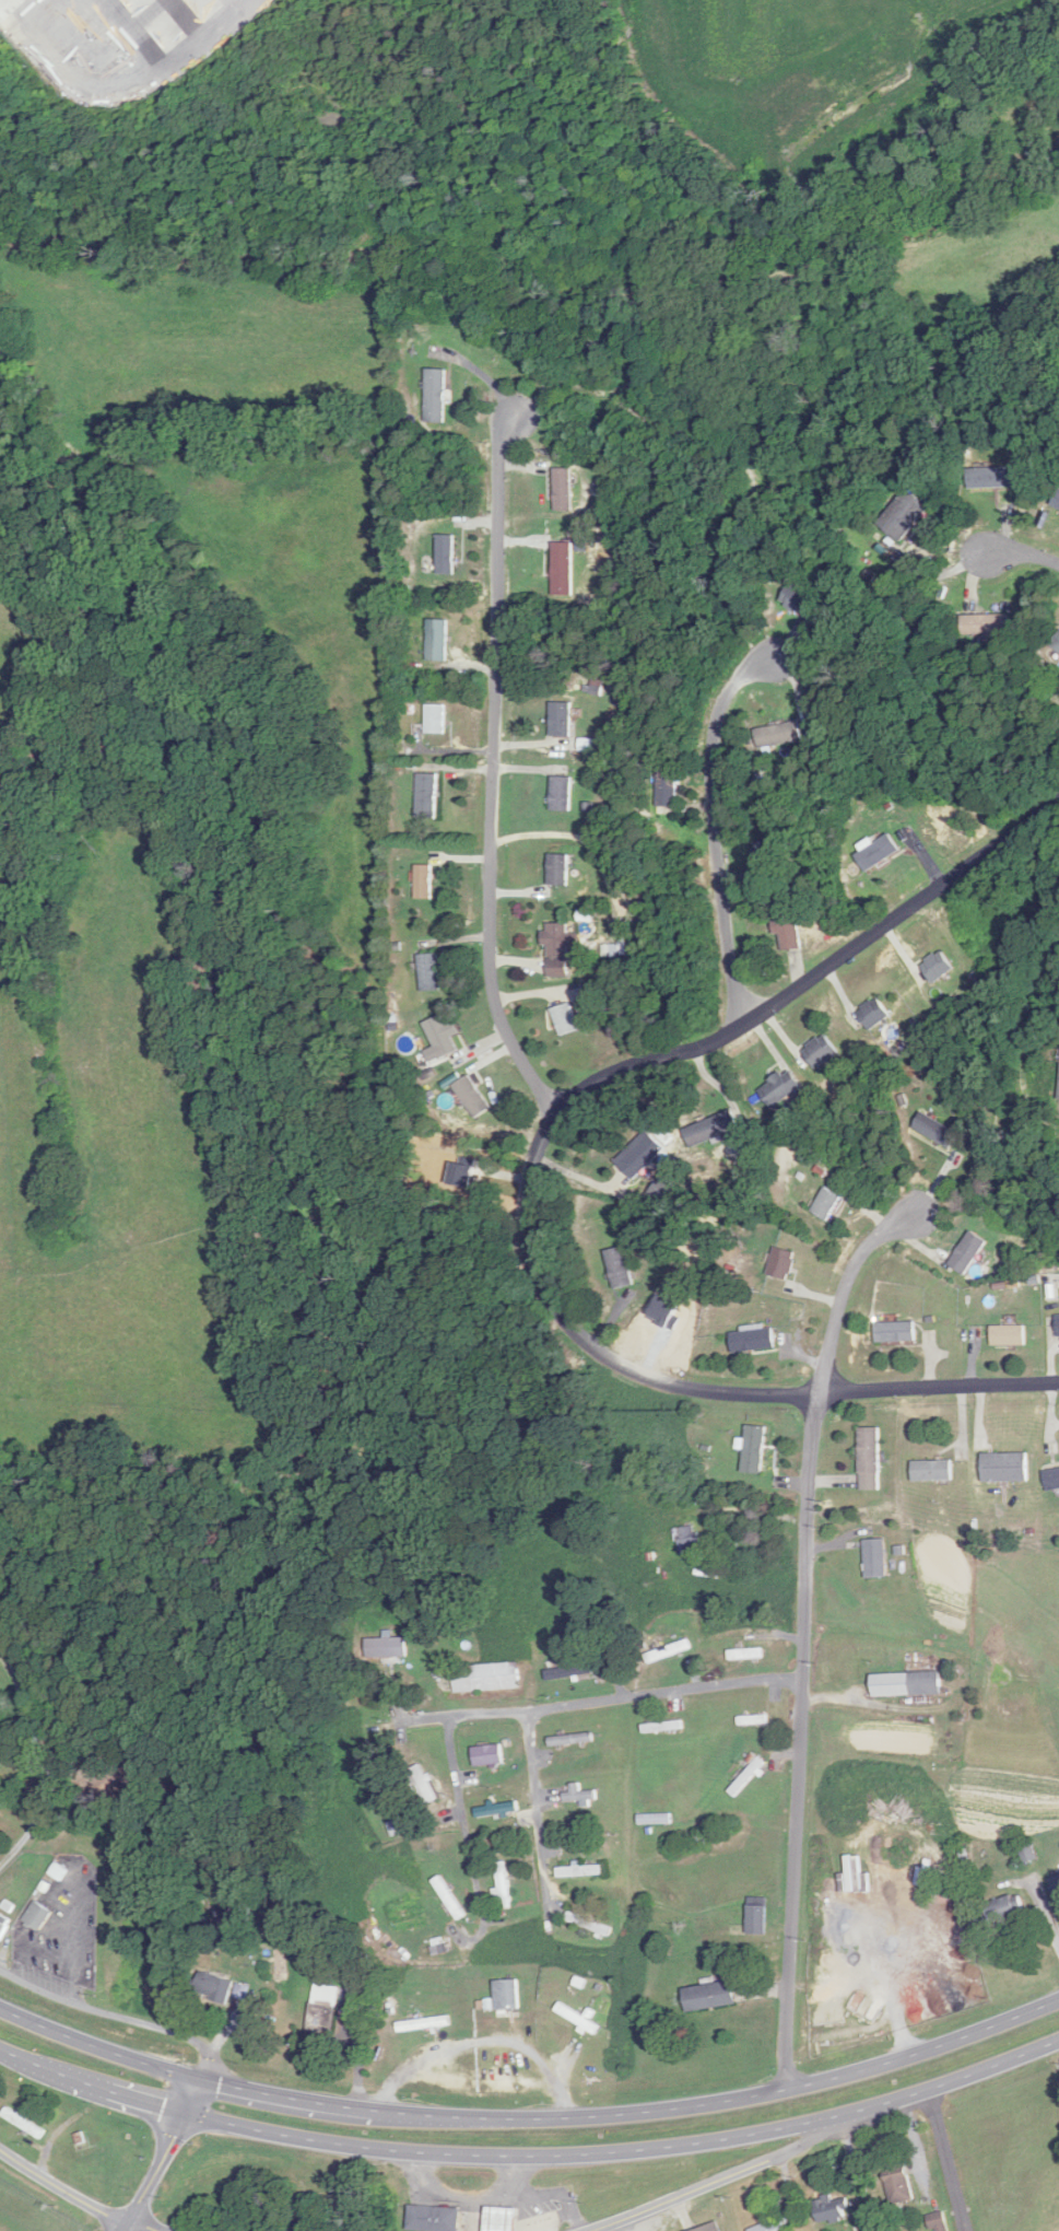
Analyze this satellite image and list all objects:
building: (436, 396)
building: (991, 478)
building: (564, 489)
building: (1056, 502)
building: (445, 554)
road: (1022, 556)
building: (563, 570)
building: (798, 598)
building: (985, 626)
building: (438, 640)
building: (1056, 644)
building: (436, 719)
building: (562, 720)
building: (780, 735)
road: (492, 770)
building: (667, 789)
building: (561, 794)
building: (428, 796)
road: (715, 829)
building: (878, 853)
building: (765, 856)
building: (558, 871)
building: (424, 883)
building: (789, 931)
building: (557, 950)
building: (939, 967)
building: (430, 972)
building: (873, 1015)
building: (566, 1019)
building: (443, 1037)
building: (820, 1053)
building: (781, 1089)
building: (472, 1097)
building: (710, 1130)
building: (937, 1131)
building: (639, 1156)
road: (525, 1178)
building: (826, 1204)
building: (968, 1252)
building: (783, 1263)
building: (620, 1268)
road: (842, 1290)
building: (1058, 1325)
building: (896, 1332)
building: (1008, 1335)
building: (755, 1340)
building: (754, 1449)
building: (870, 1459)
building: (1005, 1468)
building: (932, 1470)
building: (1052, 1480)
building: (687, 1540)
building: (876, 1558)
building: (387, 1647)
building: (669, 1651)
building: (745, 1654)
building: (568, 1671)
building: (486, 1677)
building: (907, 1684)
road: (601, 1698)
building: (752, 1719)
building: (662, 1727)
building: (572, 1739)
road: (797, 1740)
building: (487, 1755)
building: (421, 1785)
building: (579, 1794)
road: (44, 1797)
road: (537, 1807)
building: (496, 1809)
road: (463, 1820)
building: (1027, 1855)
building: (580, 1870)
building: (1057, 1882)
building: (504, 1885)
building: (448, 1897)
building: (1005, 1908)
building: (38, 1915)
building: (757, 1916)
building: (589, 1924)
building: (3, 1928)
building: (438, 1949)
road: (68, 1959)
building: (341, 1971)
building: (213, 1986)
building: (506, 1995)
building: (710, 1996)
building: (325, 2009)
building: (578, 2019)
road: (134, 2021)
building: (424, 2024)
road: (482, 2039)
road: (530, 2119)
building: (24, 2124)
road: (530, 2156)
road: (156, 2171)
road: (711, 2182)
building: (899, 2186)
road: (79, 2196)
building: (833, 2208)
building: (434, 2218)
building: (503, 2219)
building: (938, 2221)
building: (774, 2226)
building: (709, 2228)

